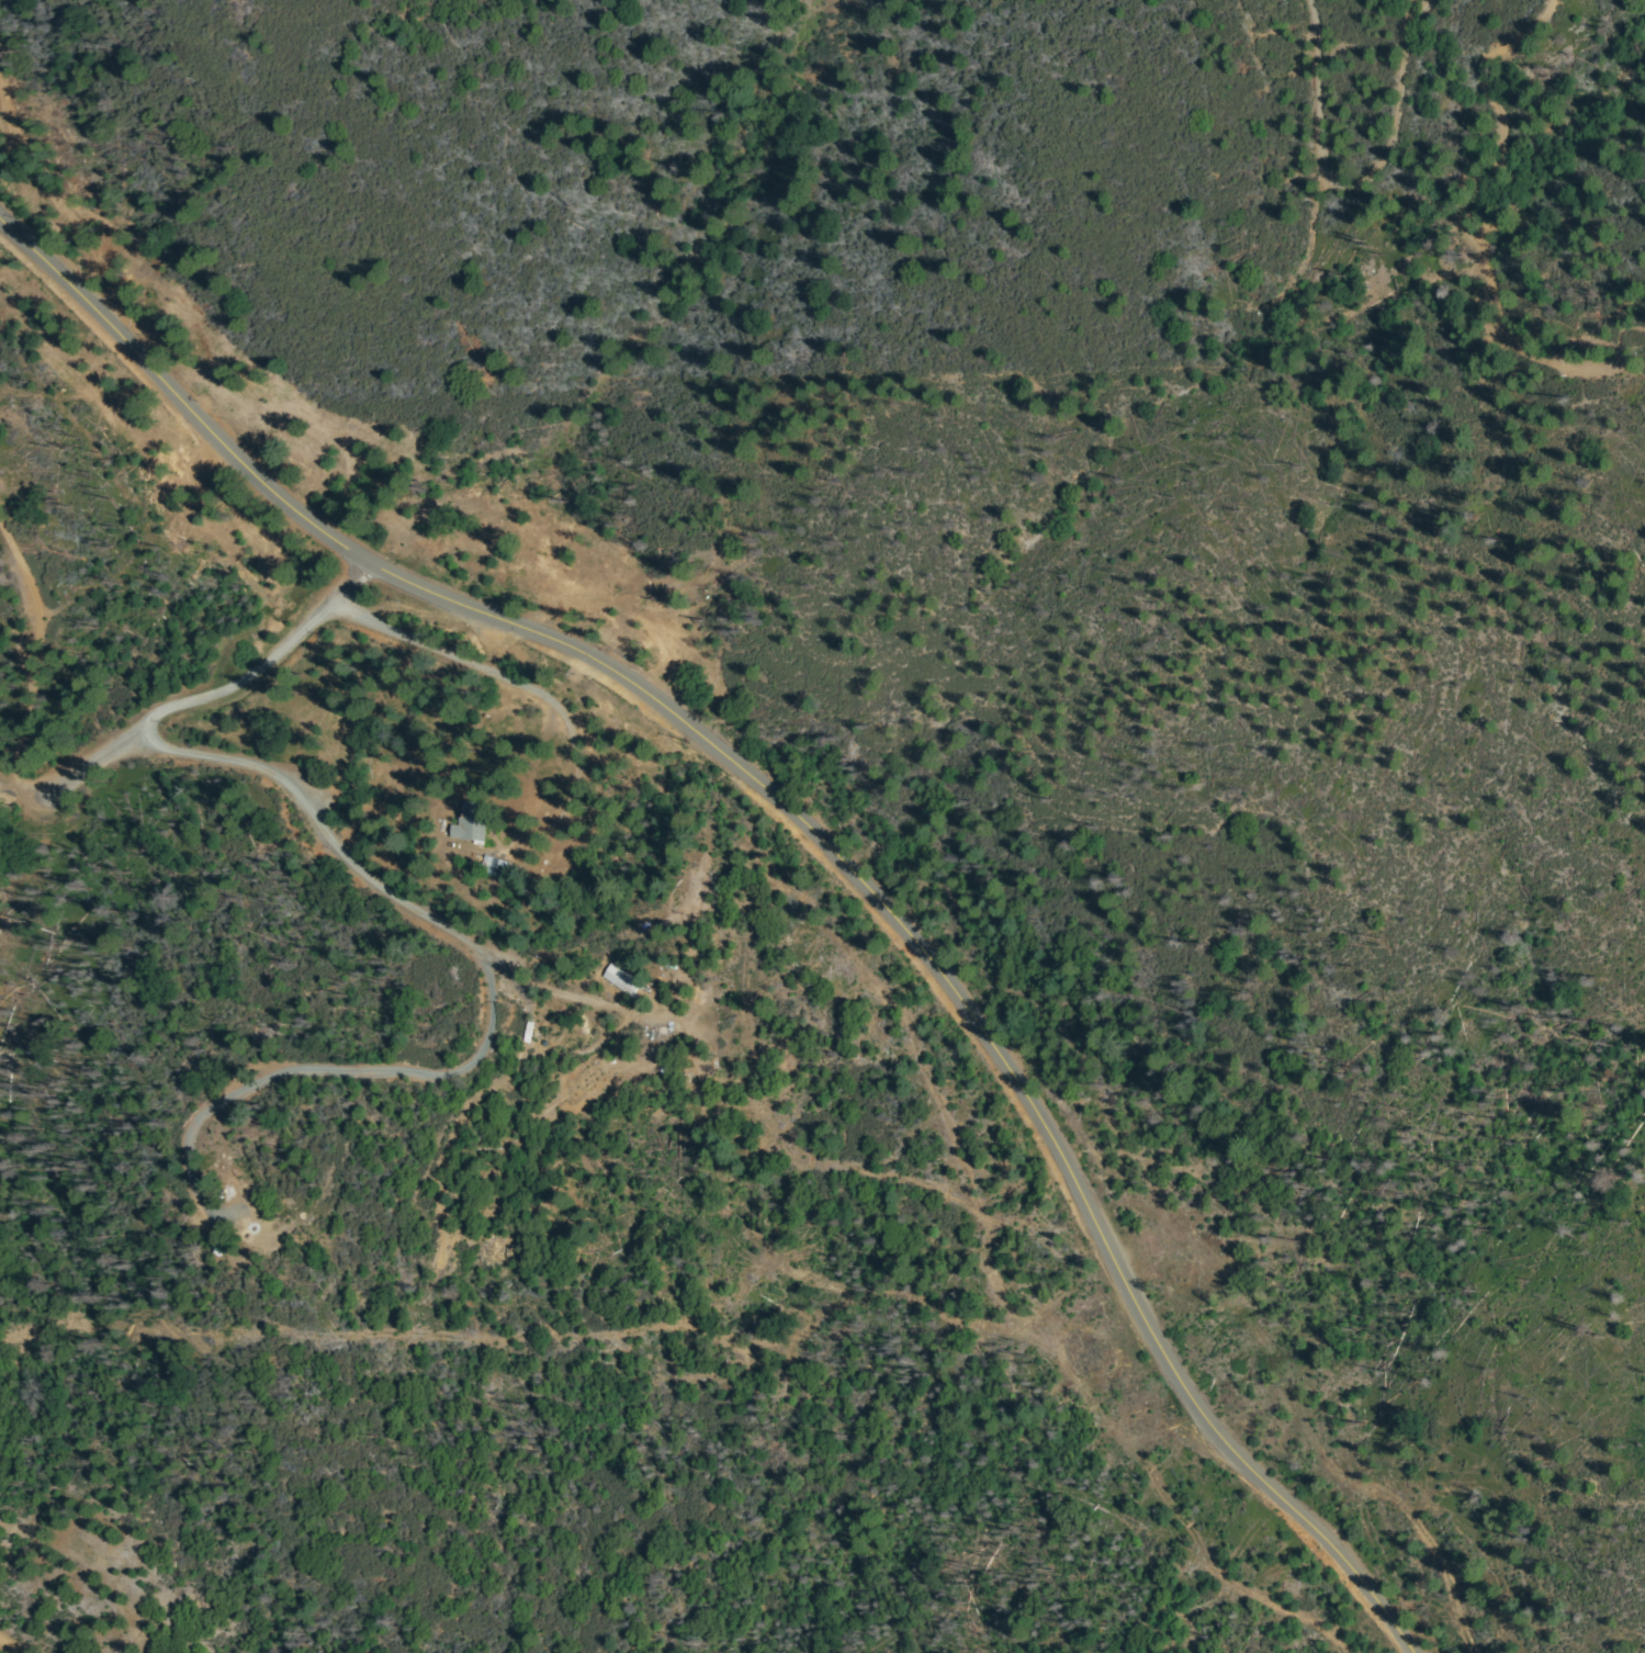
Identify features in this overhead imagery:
road: (239, 676)
building: (579, 821)
building: (466, 825)
road: (811, 831)
building: (491, 866)
building: (621, 978)
building: (216, 1245)
road: (10, 1646)

